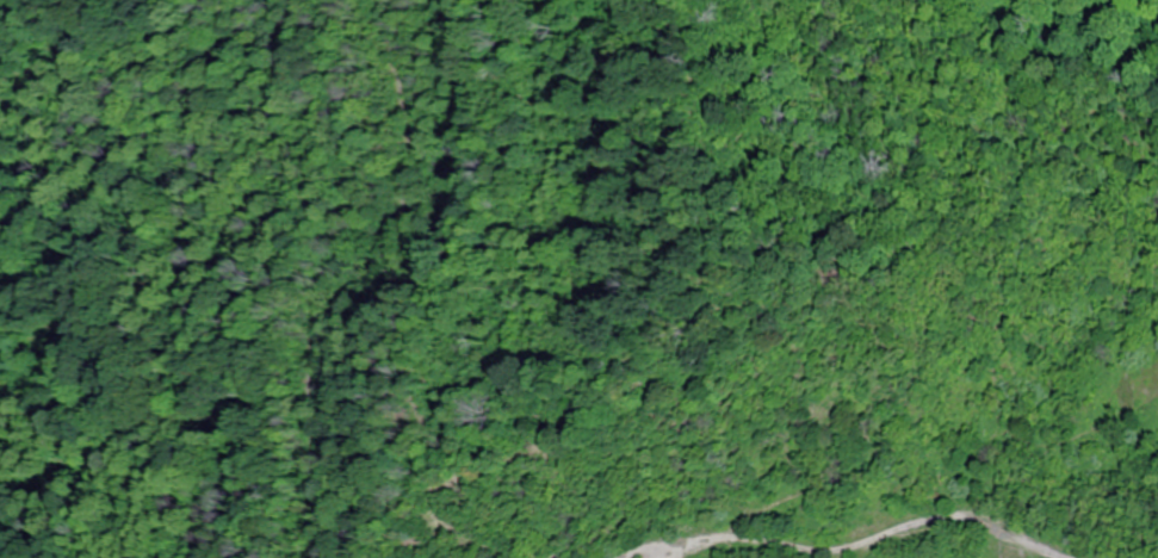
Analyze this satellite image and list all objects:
road: (262, 267)

